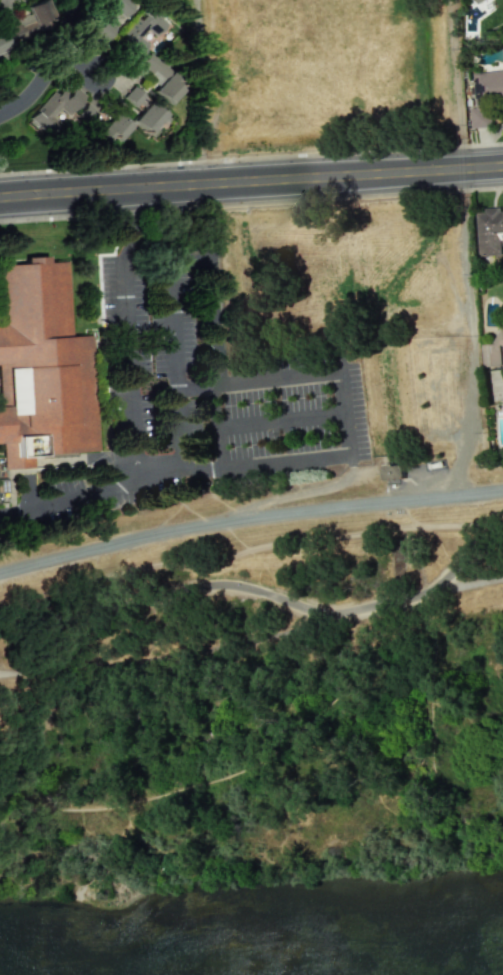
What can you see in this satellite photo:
building: (477, 1)
building: (30, 20)
building: (107, 20)
building: (139, 33)
building: (2, 45)
road: (51, 66)
building: (160, 78)
road: (103, 86)
building: (486, 97)
building: (55, 107)
building: (150, 119)
building: (102, 124)
road: (251, 181)
building: (489, 231)
road: (193, 261)
road: (131, 357)
building: (42, 367)
road: (306, 371)
road: (196, 387)
building: (502, 387)
road: (180, 409)
road: (281, 418)
road: (215, 422)
road: (268, 463)
building: (395, 473)
building: (3, 488)
road: (249, 521)
road: (262, 593)

